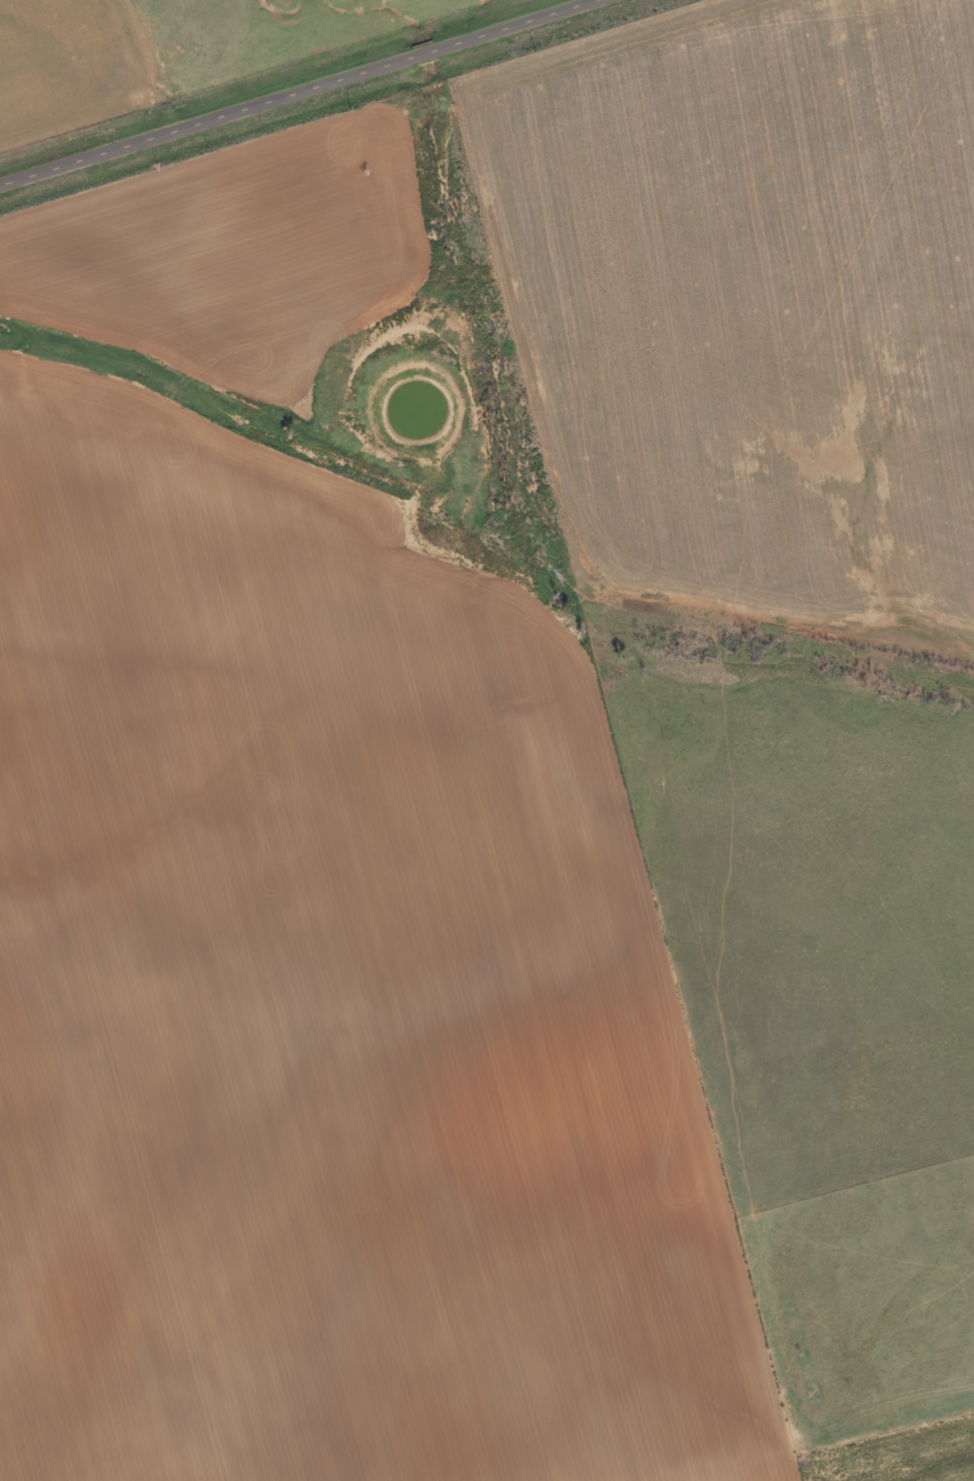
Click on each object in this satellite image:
road: (292, 89)

